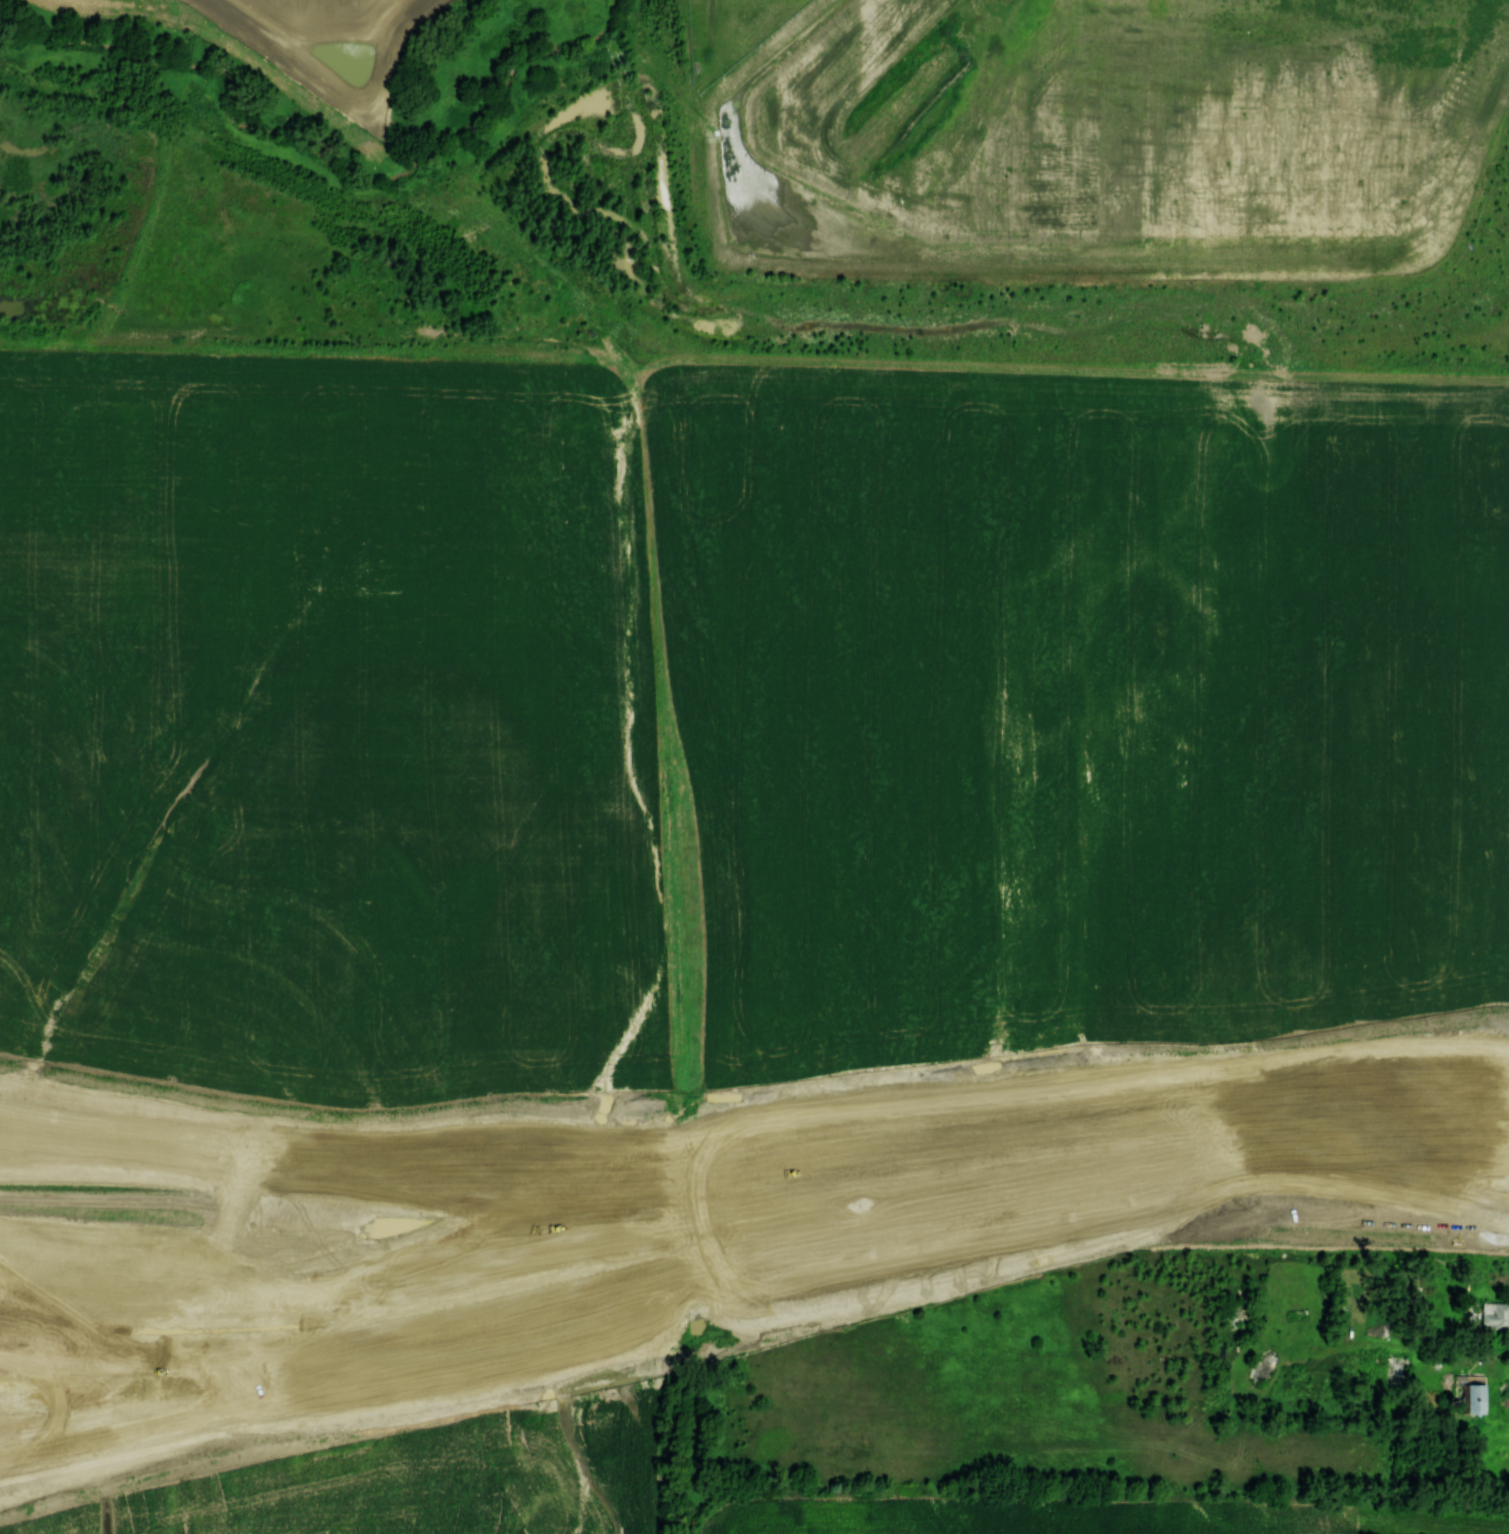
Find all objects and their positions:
building: (1496, 1316)
building: (1473, 1392)

